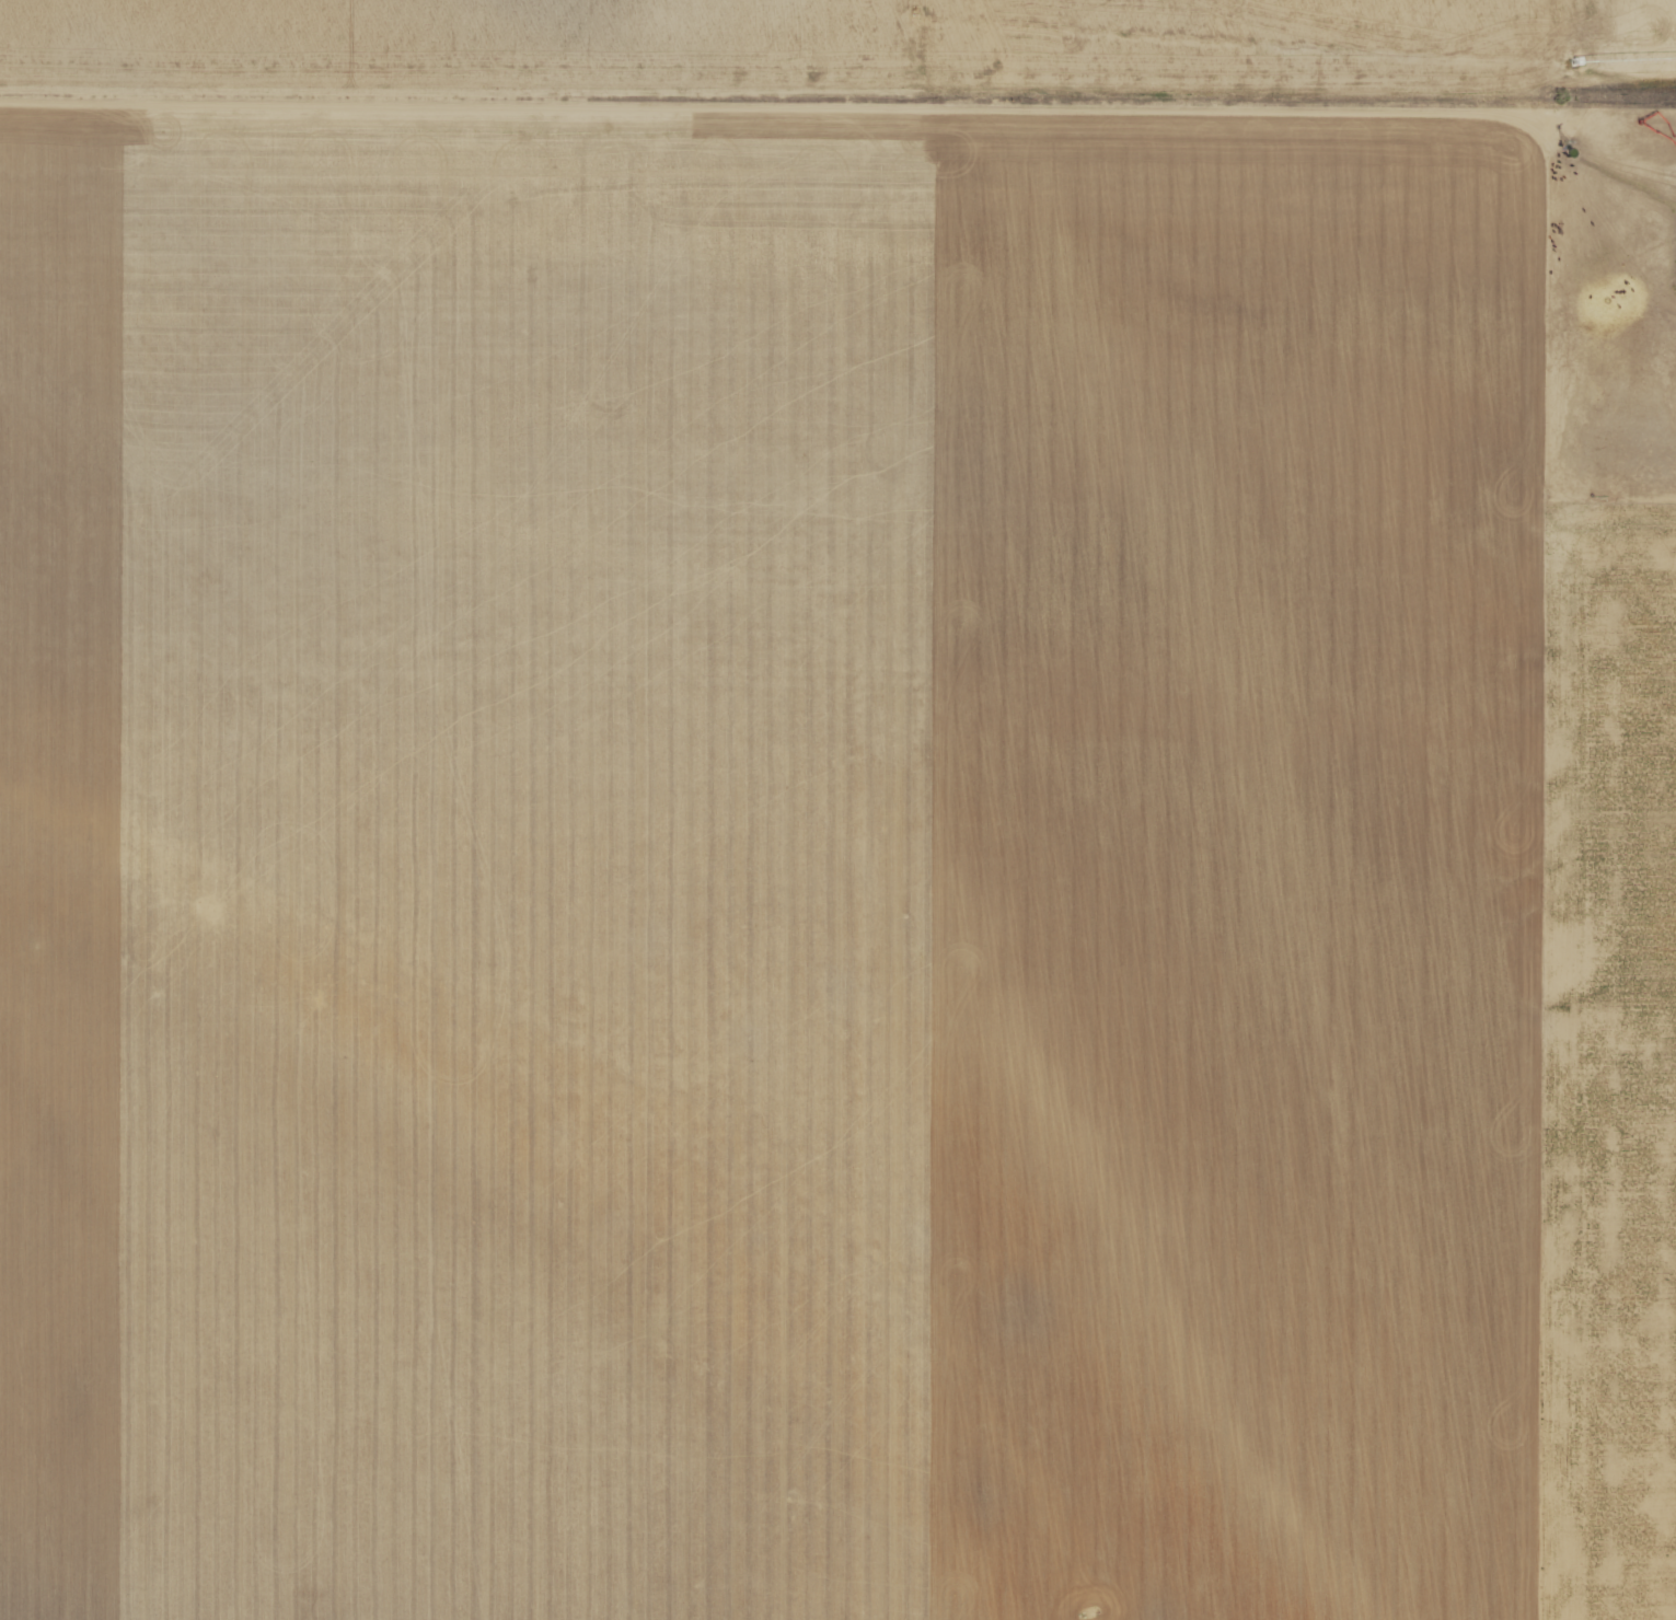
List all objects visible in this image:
road: (1448, 236)
road: (496, 1208)

